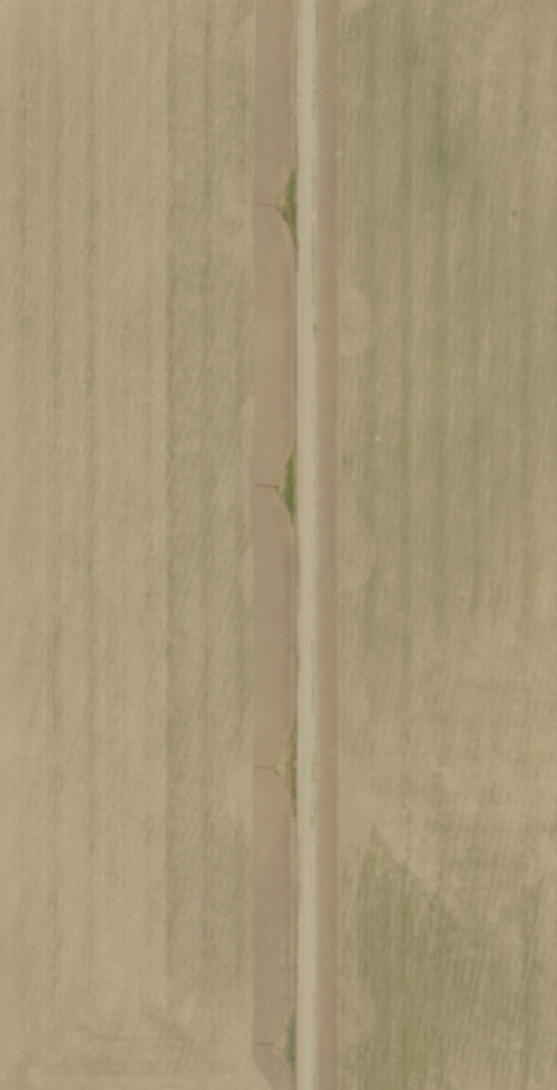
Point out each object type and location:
crop: (143, 541)
crop: (439, 541)
road: (303, 544)

